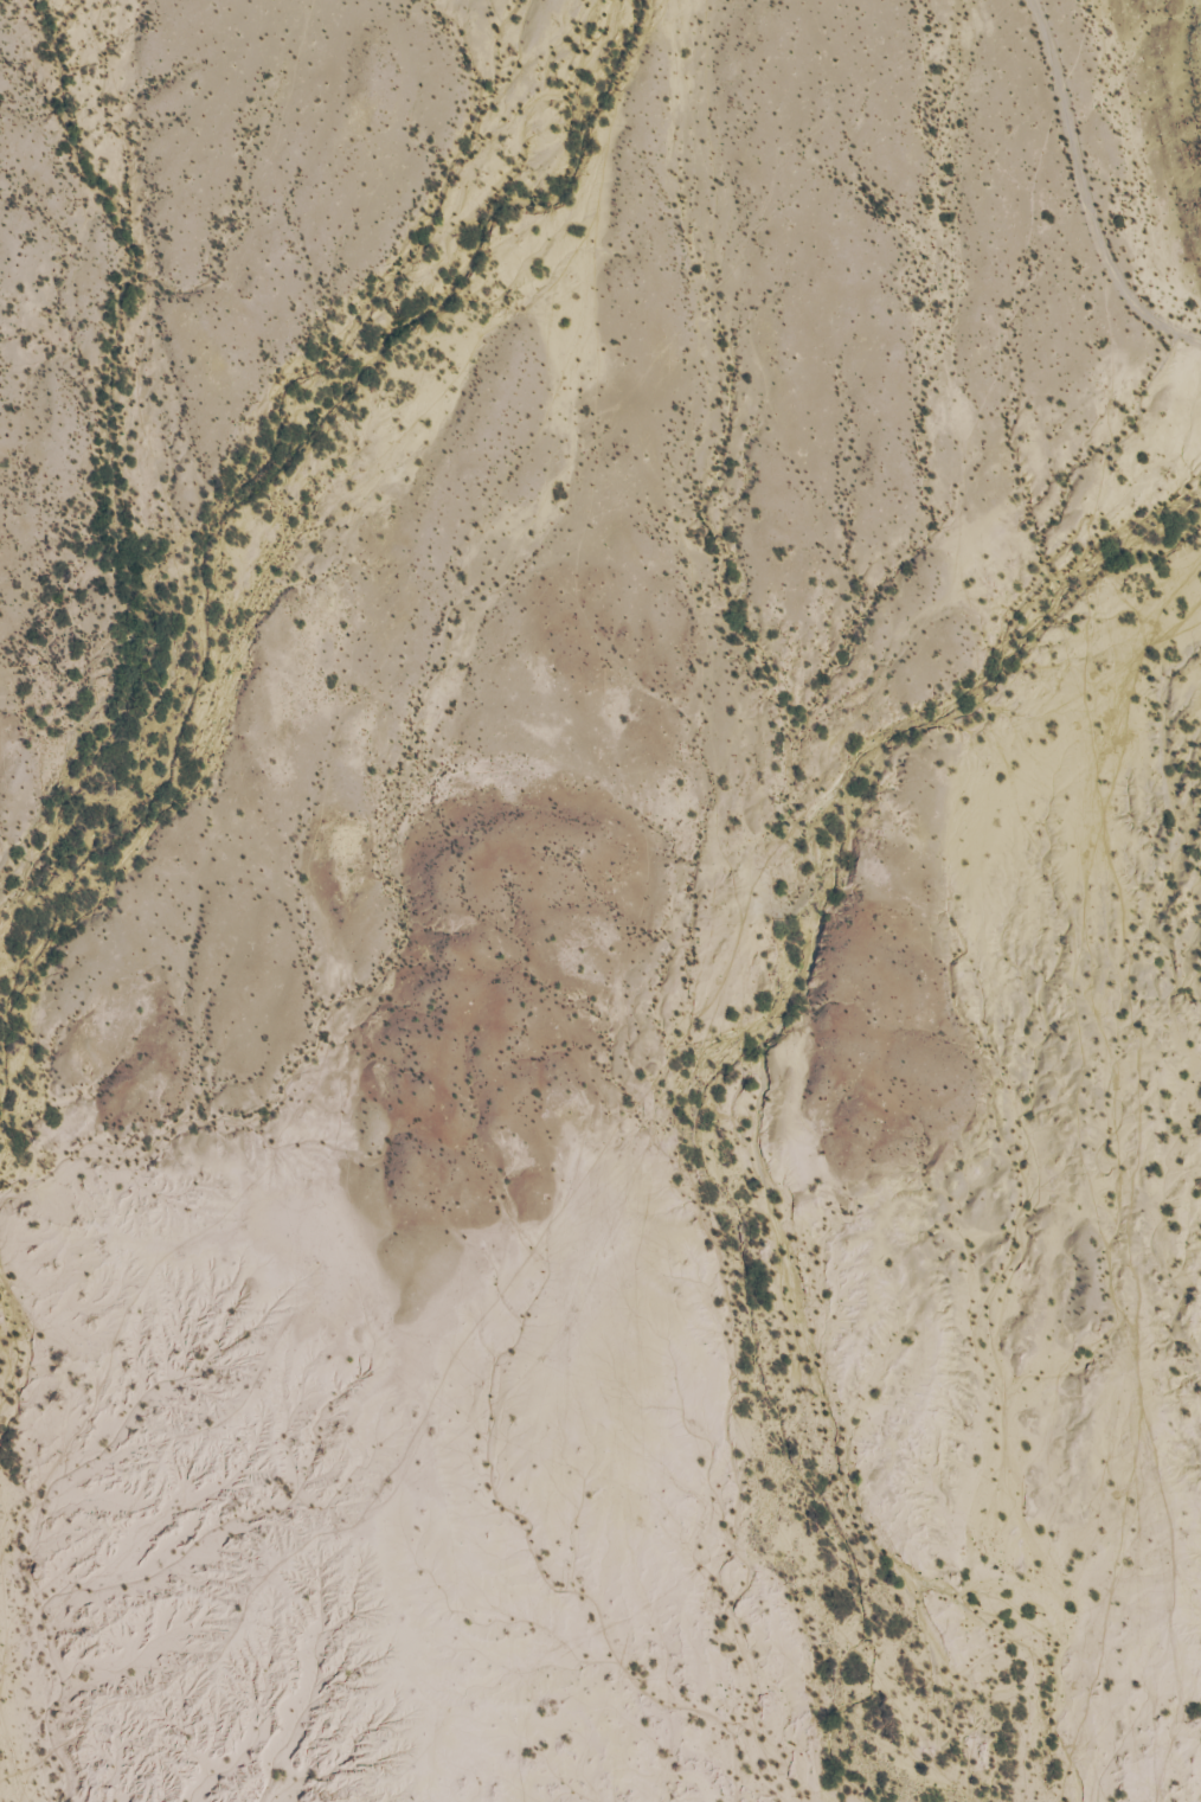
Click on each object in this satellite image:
road: (1083, 187)

